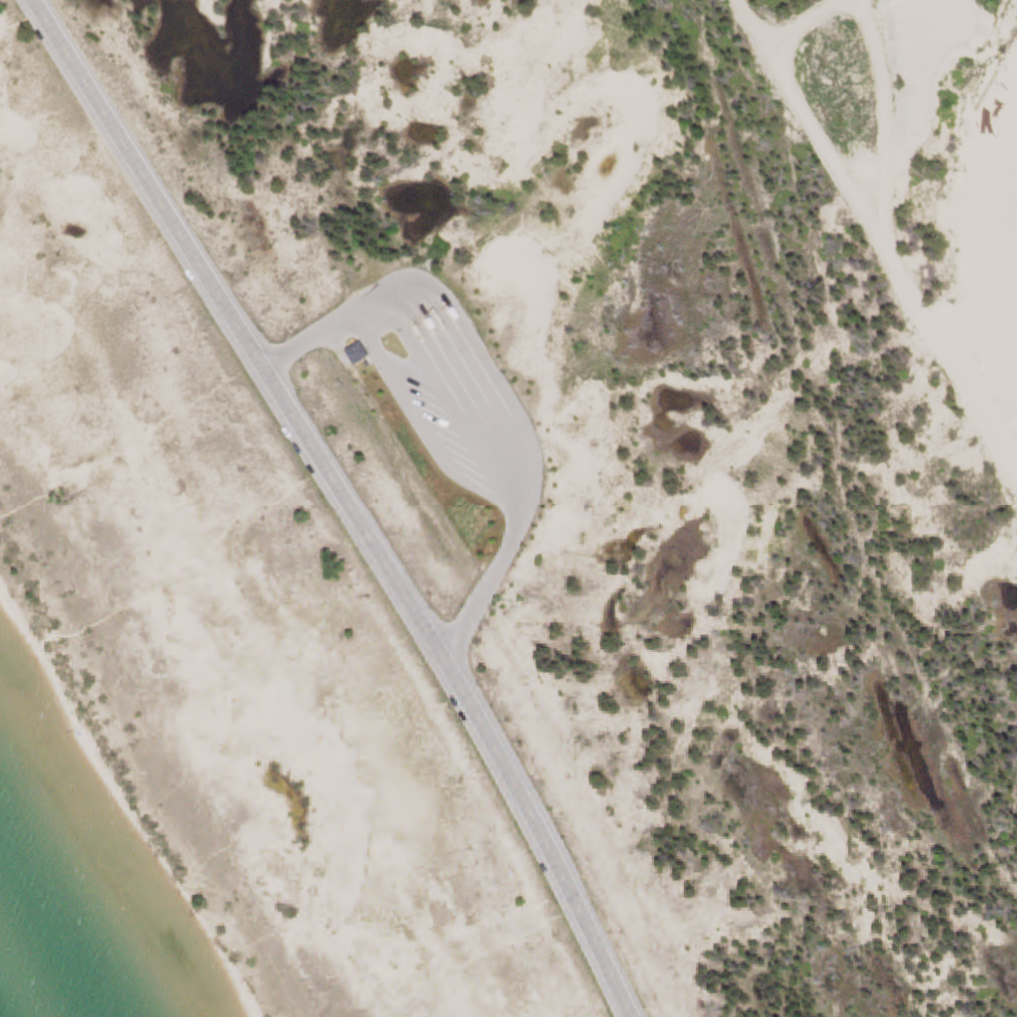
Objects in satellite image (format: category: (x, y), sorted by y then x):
building: (363, 353)
road: (464, 414)
road: (346, 501)
park: (515, 502)

